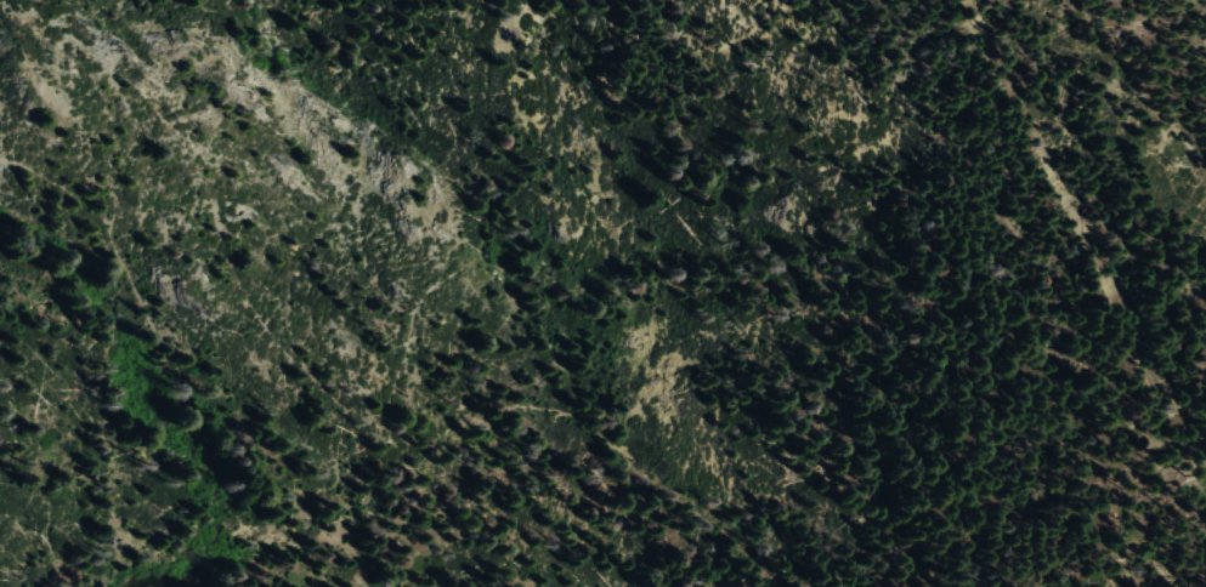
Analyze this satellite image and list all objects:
road: (1081, 230)
road: (340, 428)
road: (1179, 525)

